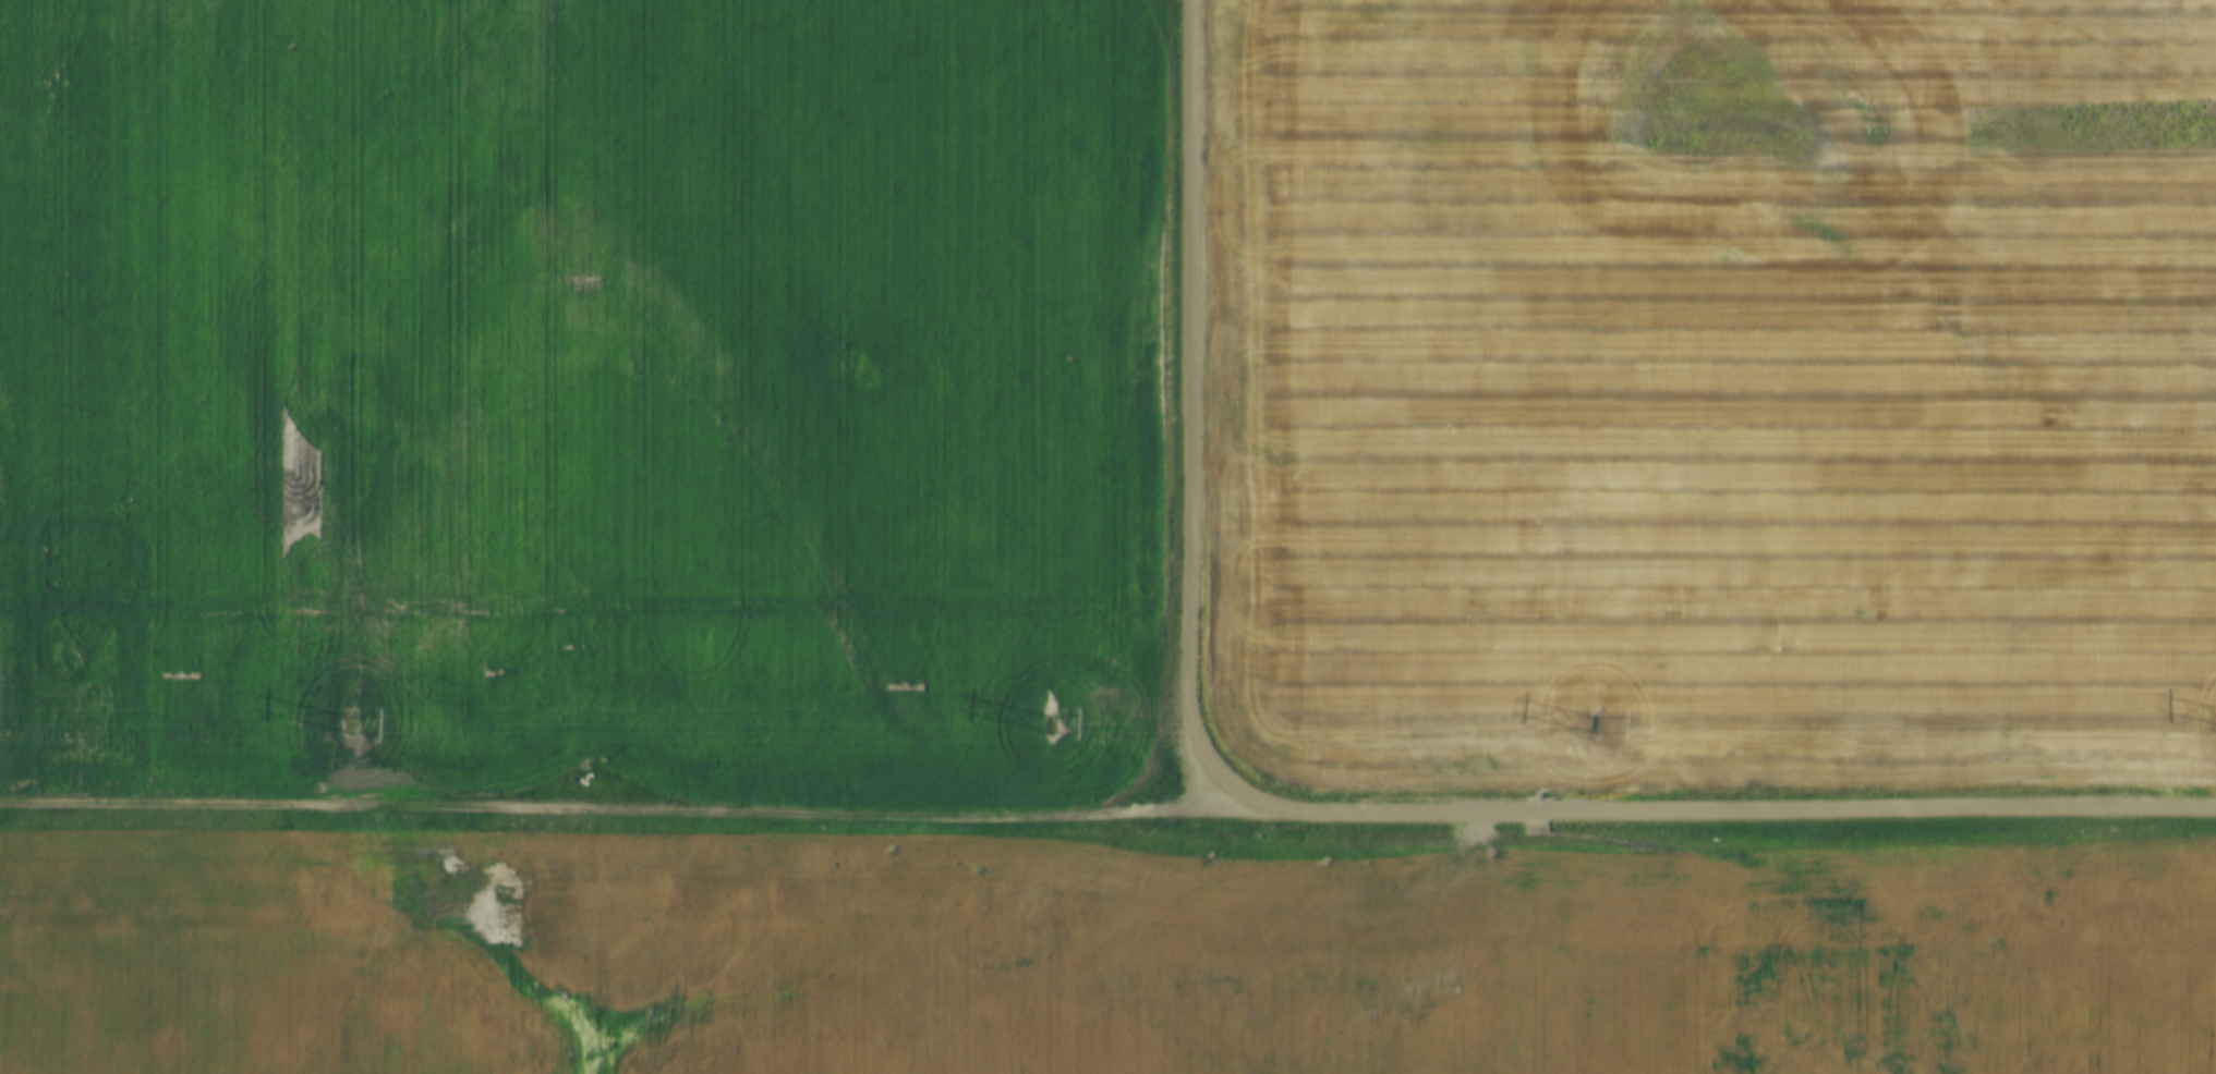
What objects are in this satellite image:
power tower: (1043, 717)
power tower: (1578, 718)
power tower: (347, 720)
road: (1107, 809)

